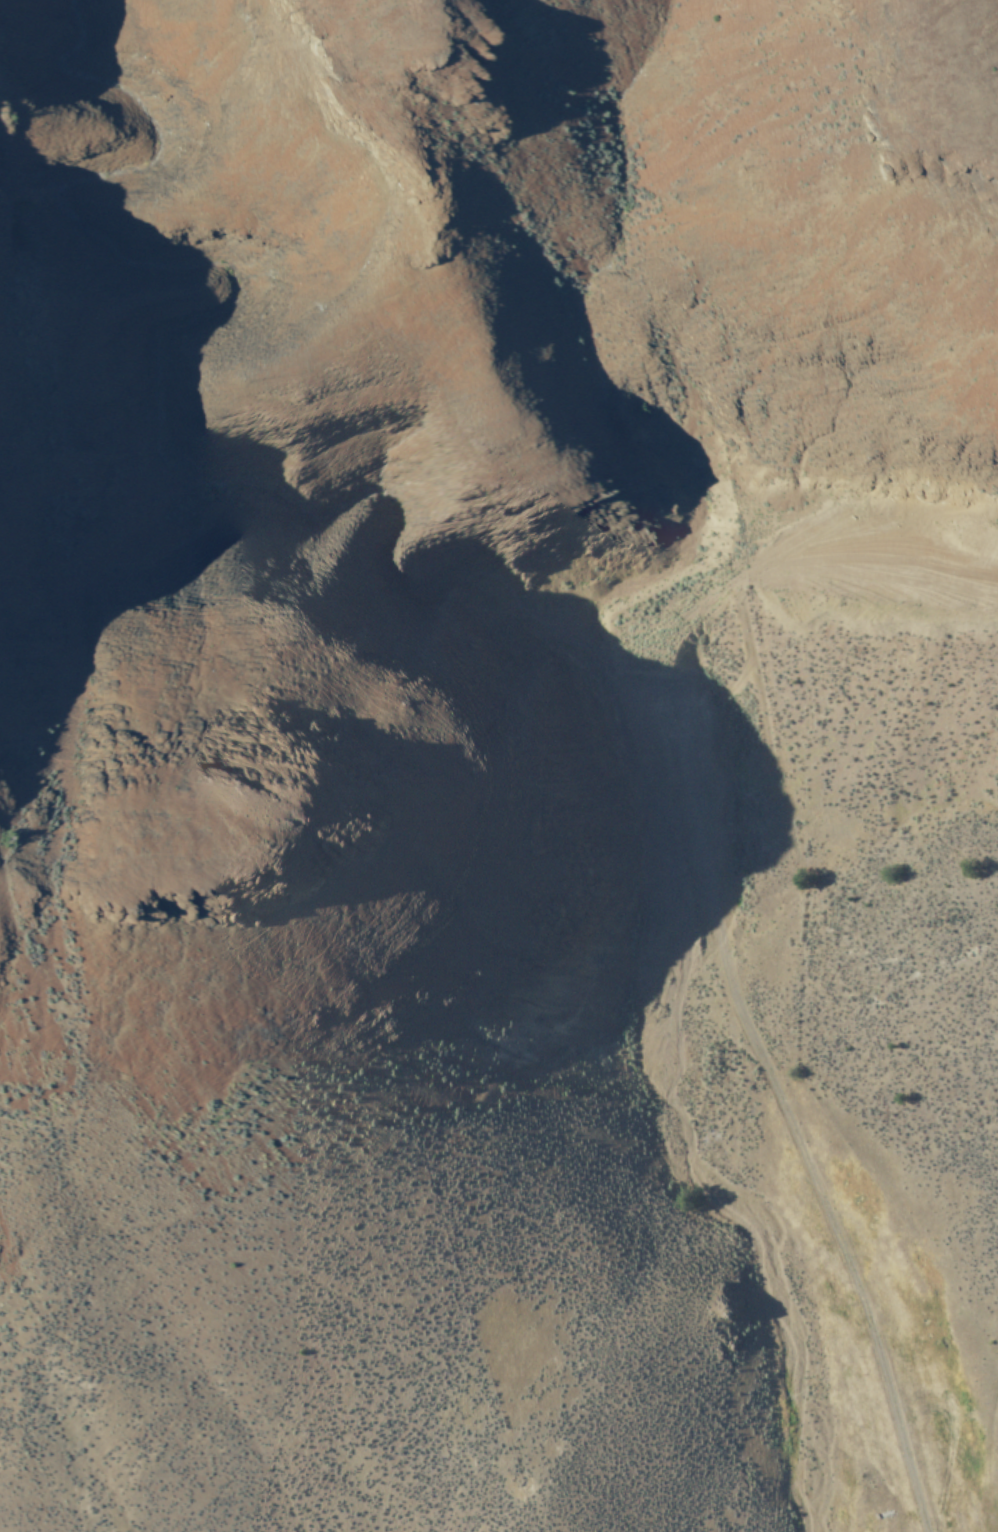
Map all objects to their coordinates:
road: (992, 1466)

